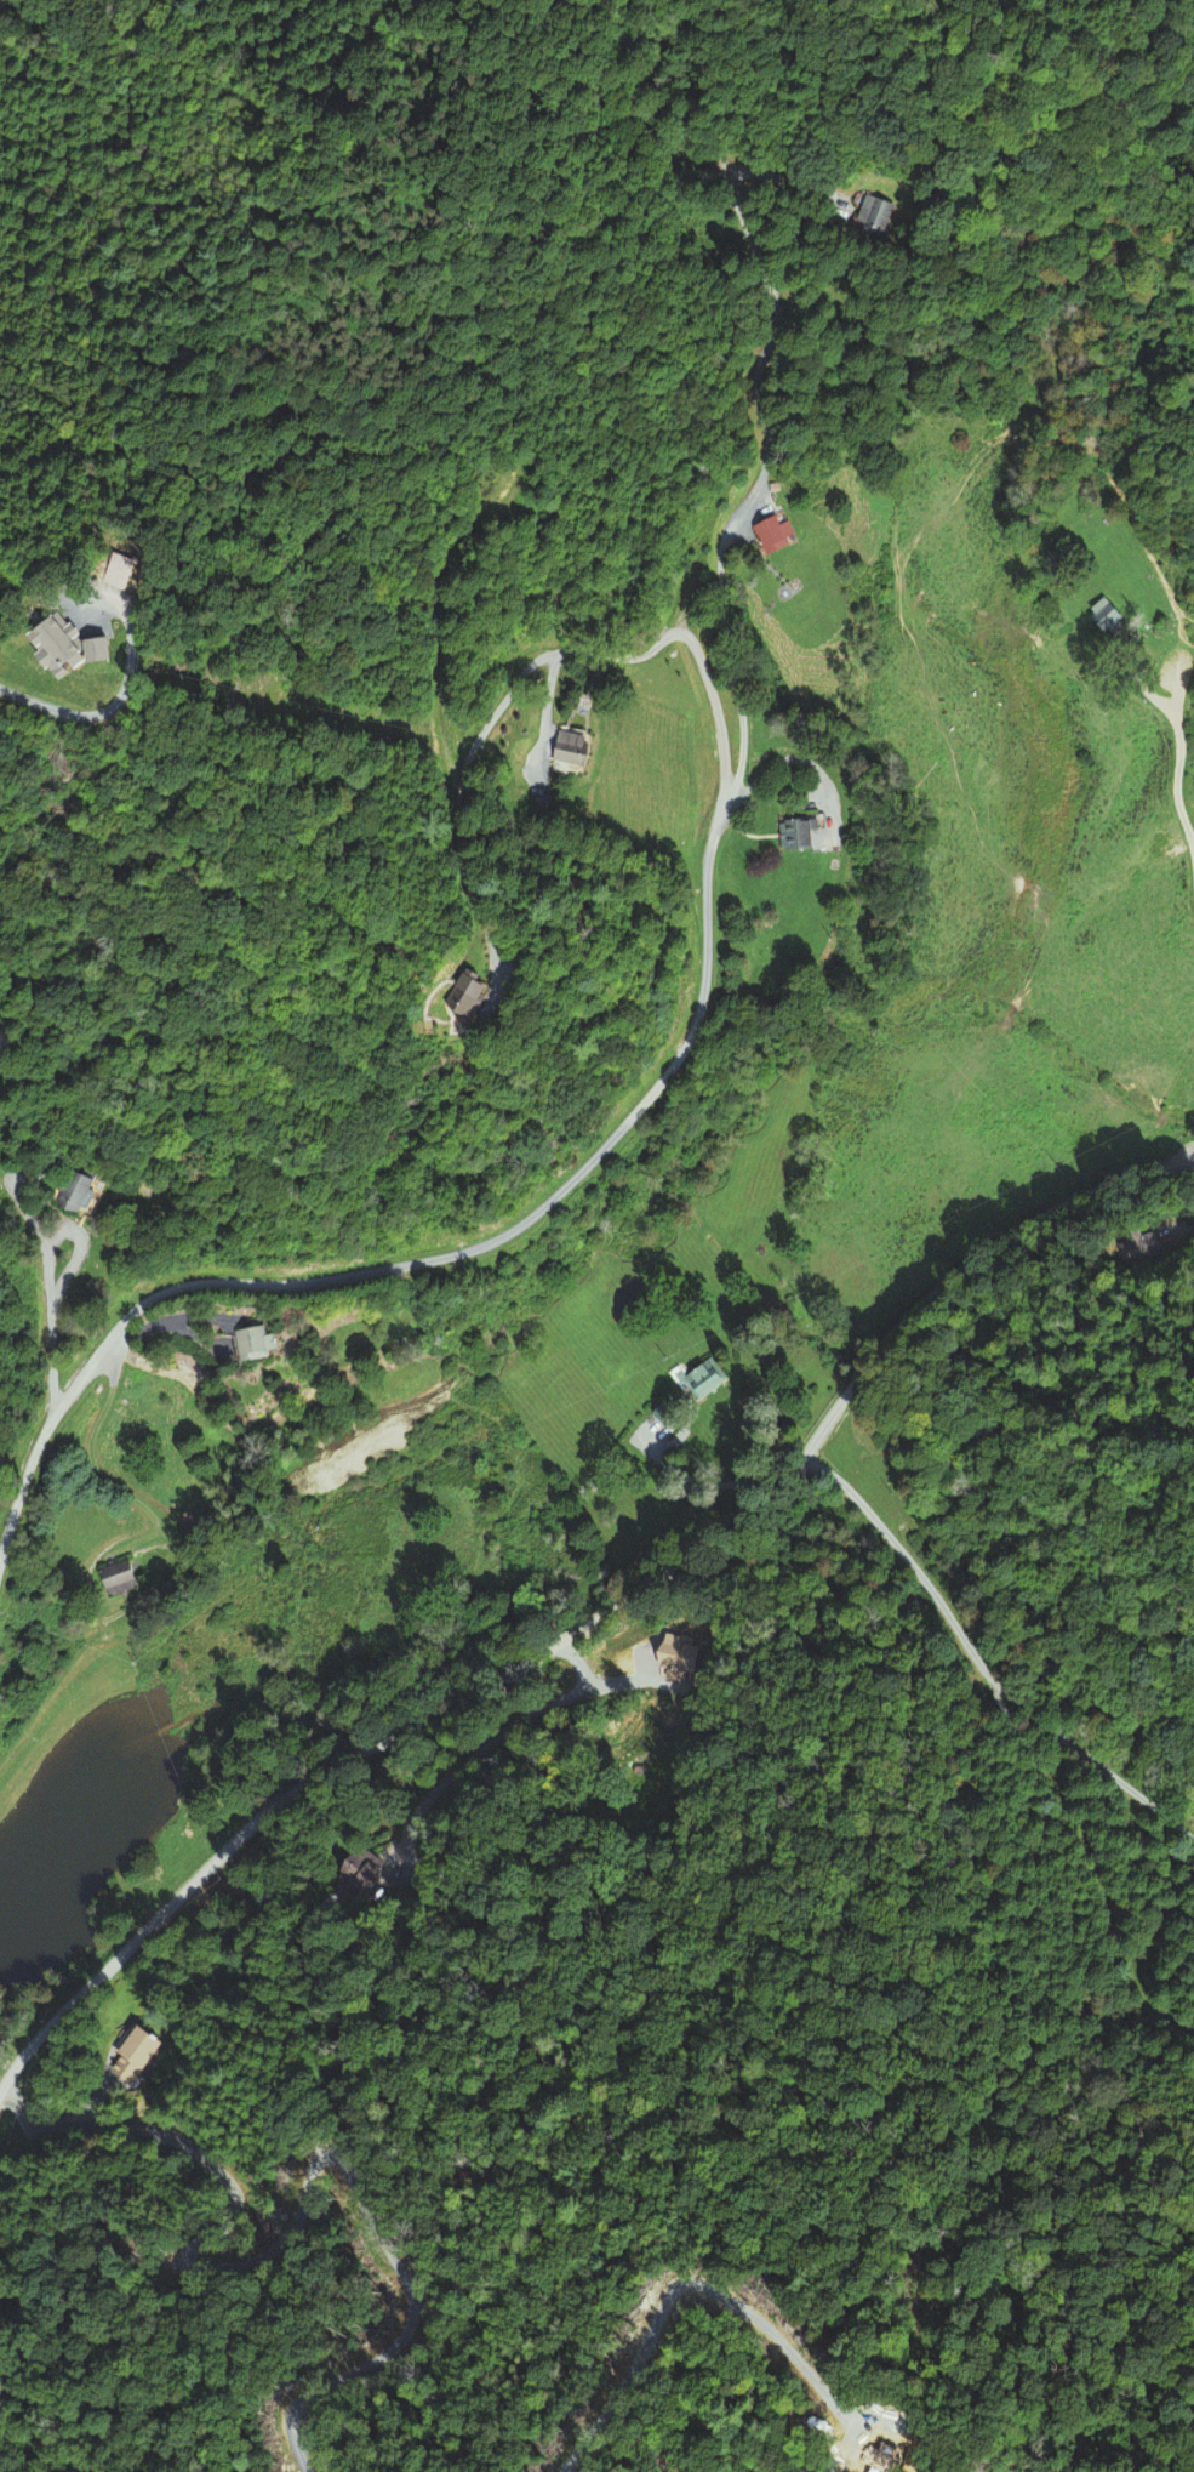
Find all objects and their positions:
building: (881, 213)
building: (772, 535)
building: (1107, 613)
building: (50, 644)
road: (525, 668)
road: (1143, 690)
building: (569, 748)
road: (1177, 756)
building: (793, 835)
building: (456, 992)
building: (78, 1194)
building: (1130, 1246)
road: (433, 1261)
building: (258, 1344)
building: (702, 1379)
building: (112, 1582)
road: (598, 1617)
road: (979, 1665)
building: (348, 1875)
building: (128, 2055)

